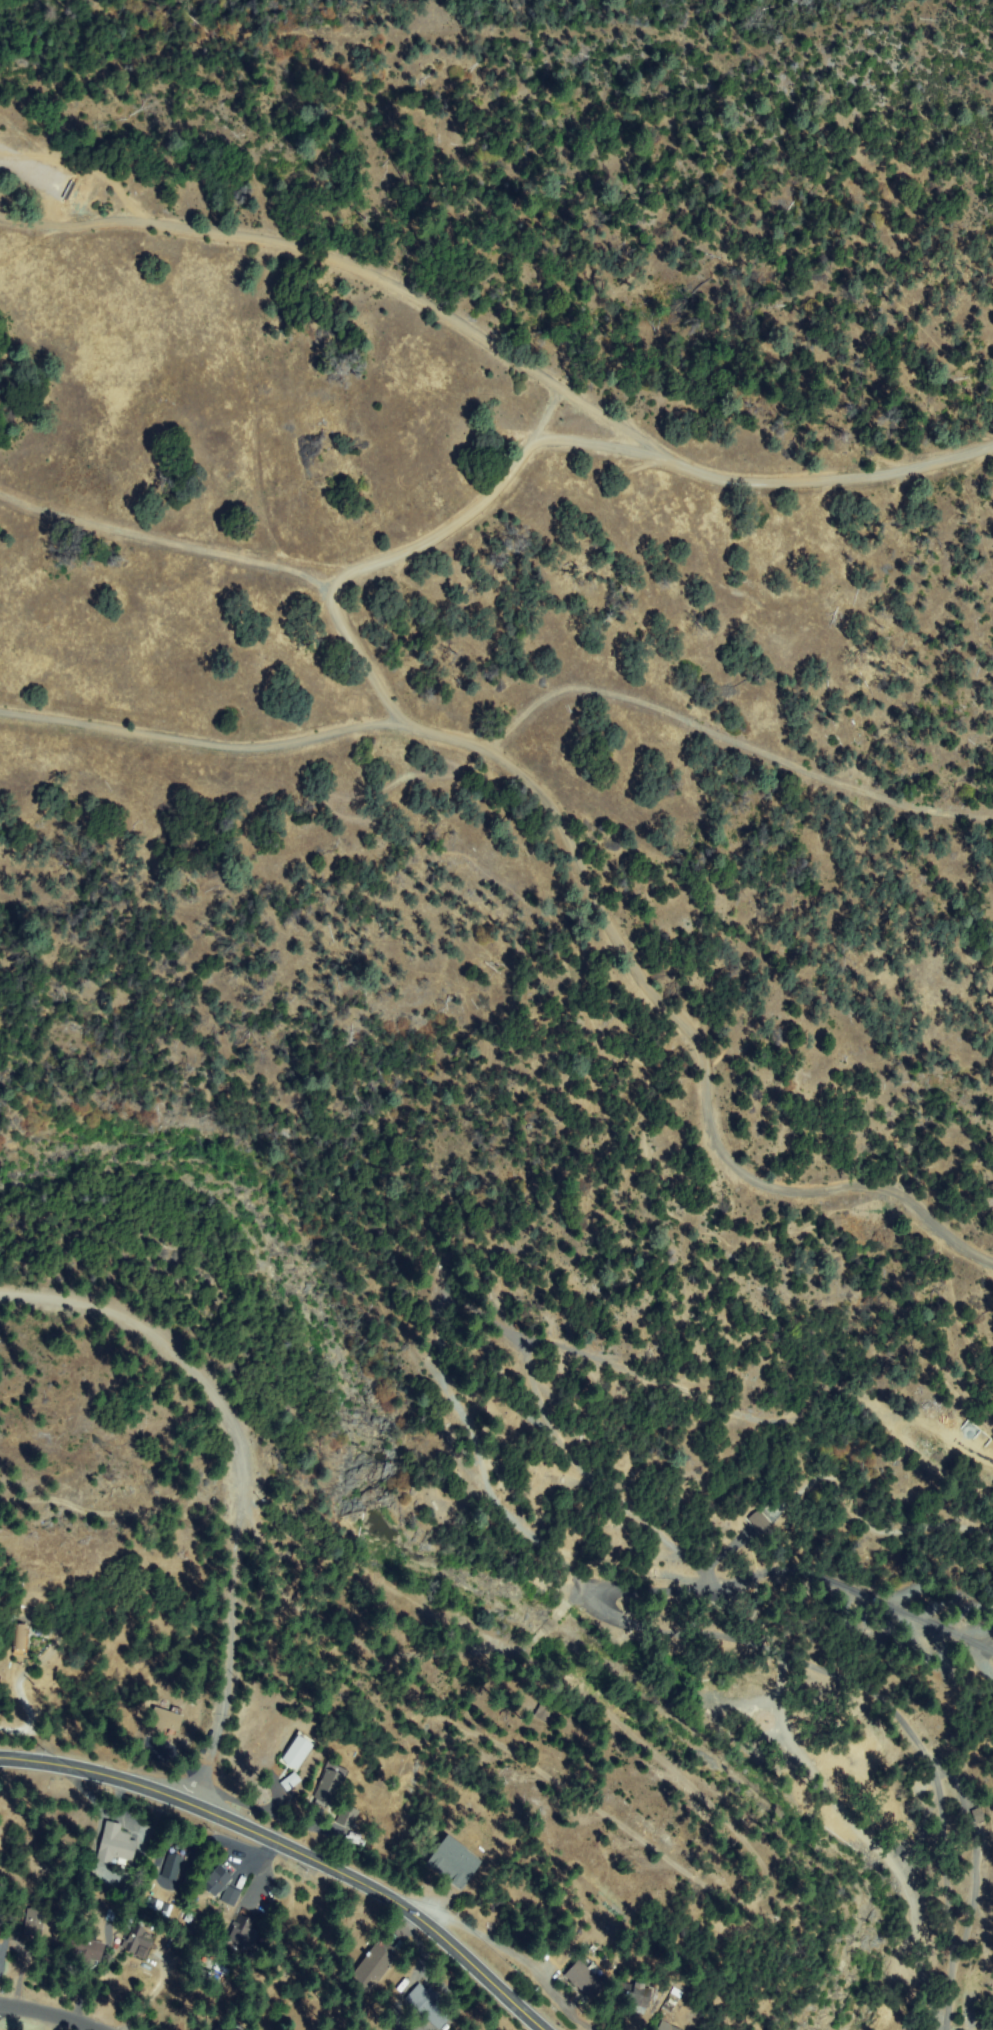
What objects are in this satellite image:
road: (504, 346)
road: (601, 443)
road: (407, 553)
road: (732, 737)
road: (579, 856)
road: (935, 1080)
road: (237, 1470)
road: (118, 1501)
building: (759, 1520)
building: (20, 1640)
building: (544, 1712)
building: (166, 1720)
building: (298, 1751)
building: (330, 1783)
building: (977, 1815)
building: (349, 1816)
building: (116, 1845)
road: (292, 1850)
building: (453, 1862)
building: (173, 1864)
building: (217, 1881)
building: (231, 1896)
building: (35, 1922)
building: (242, 1933)
building: (137, 1940)
building: (86, 1950)
road: (511, 1953)
building: (374, 1967)
building: (585, 1980)
building: (632, 1993)
building: (429, 2007)
road: (41, 2017)
building: (667, 2024)
building: (224, 2028)
building: (678, 2028)

